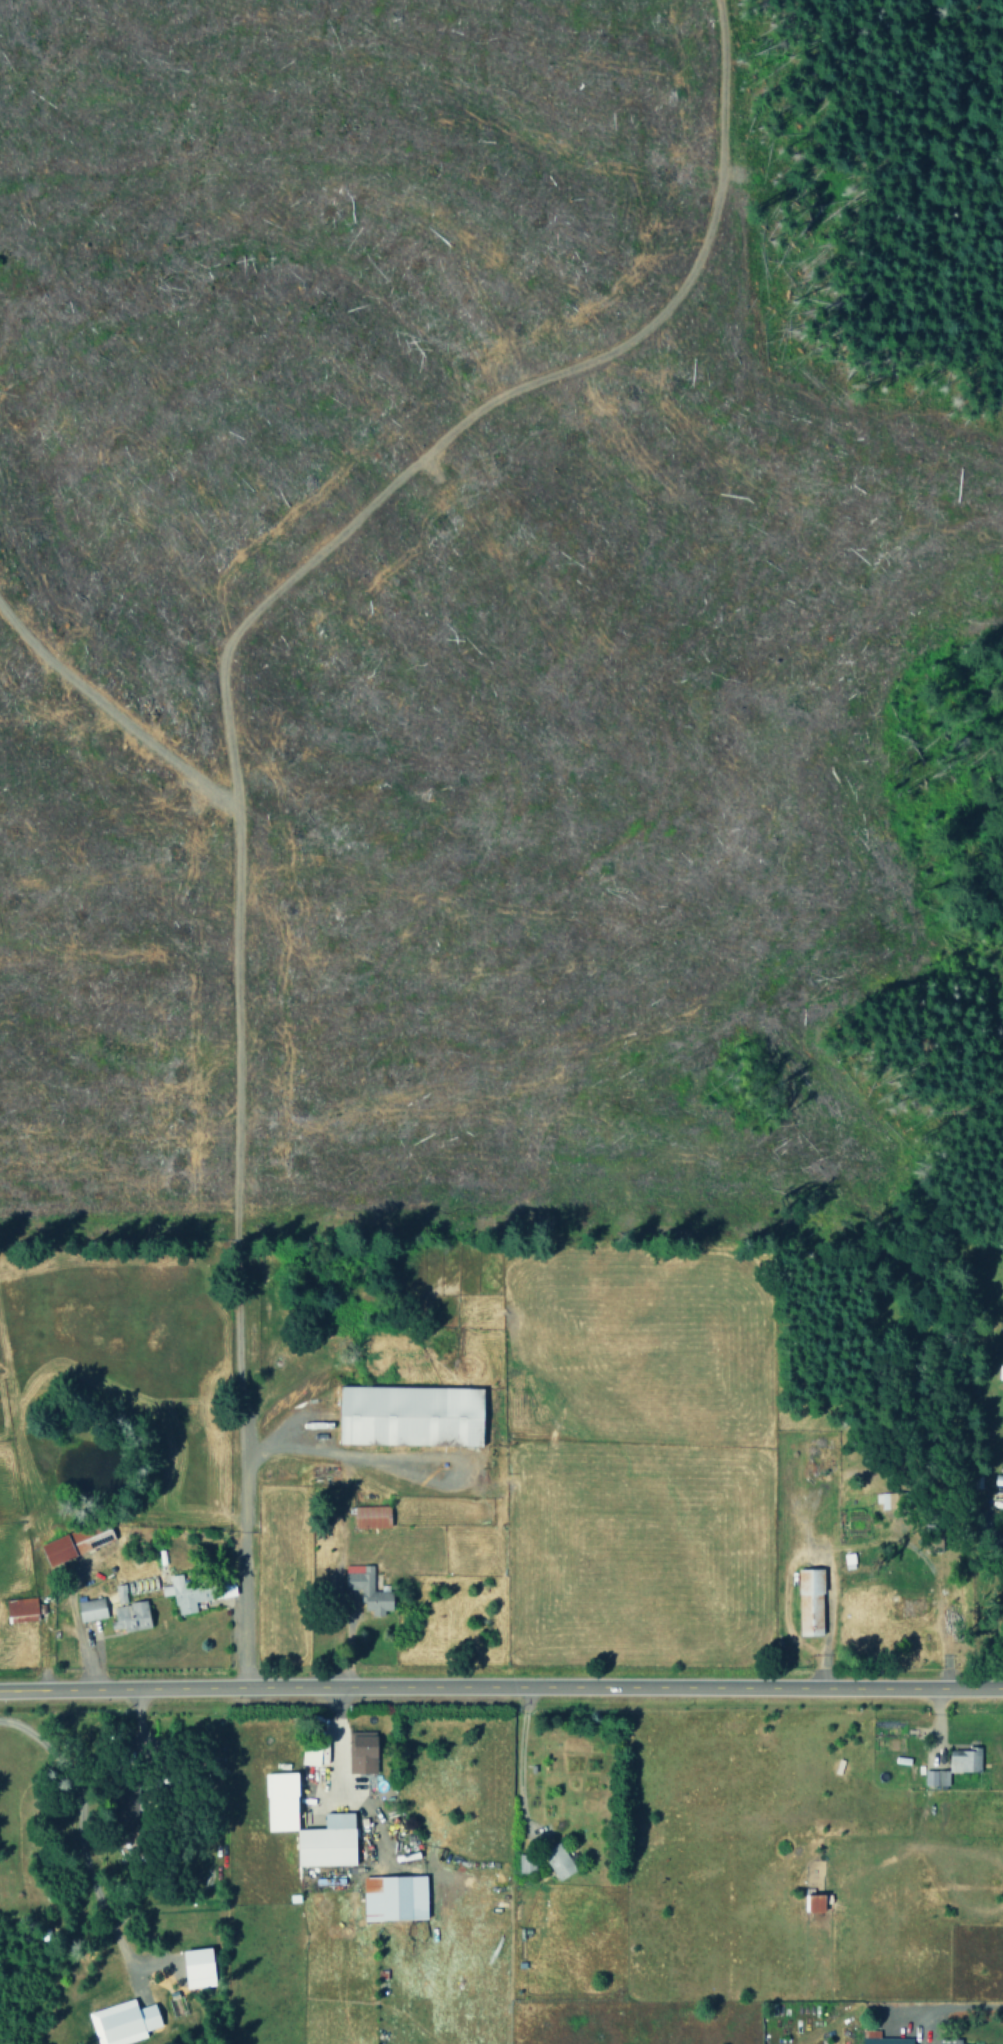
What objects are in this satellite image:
road: (929, 233)
road: (739, 622)
road: (827, 645)
road: (232, 832)
building: (411, 1415)
building: (888, 1500)
building: (372, 1516)
building: (74, 1543)
building: (367, 1589)
building: (196, 1591)
building: (120, 1593)
building: (810, 1601)
building: (21, 1609)
building: (91, 1609)
building: (130, 1616)
road: (501, 1690)
building: (362, 1752)
building: (314, 1754)
building: (964, 1760)
building: (936, 1777)
building: (282, 1820)
road: (76, 1831)
building: (559, 1862)
building: (526, 1863)
building: (394, 1897)
building: (815, 1903)
building: (198, 1967)
building: (123, 2022)
building: (882, 2038)
building: (948, 2041)

